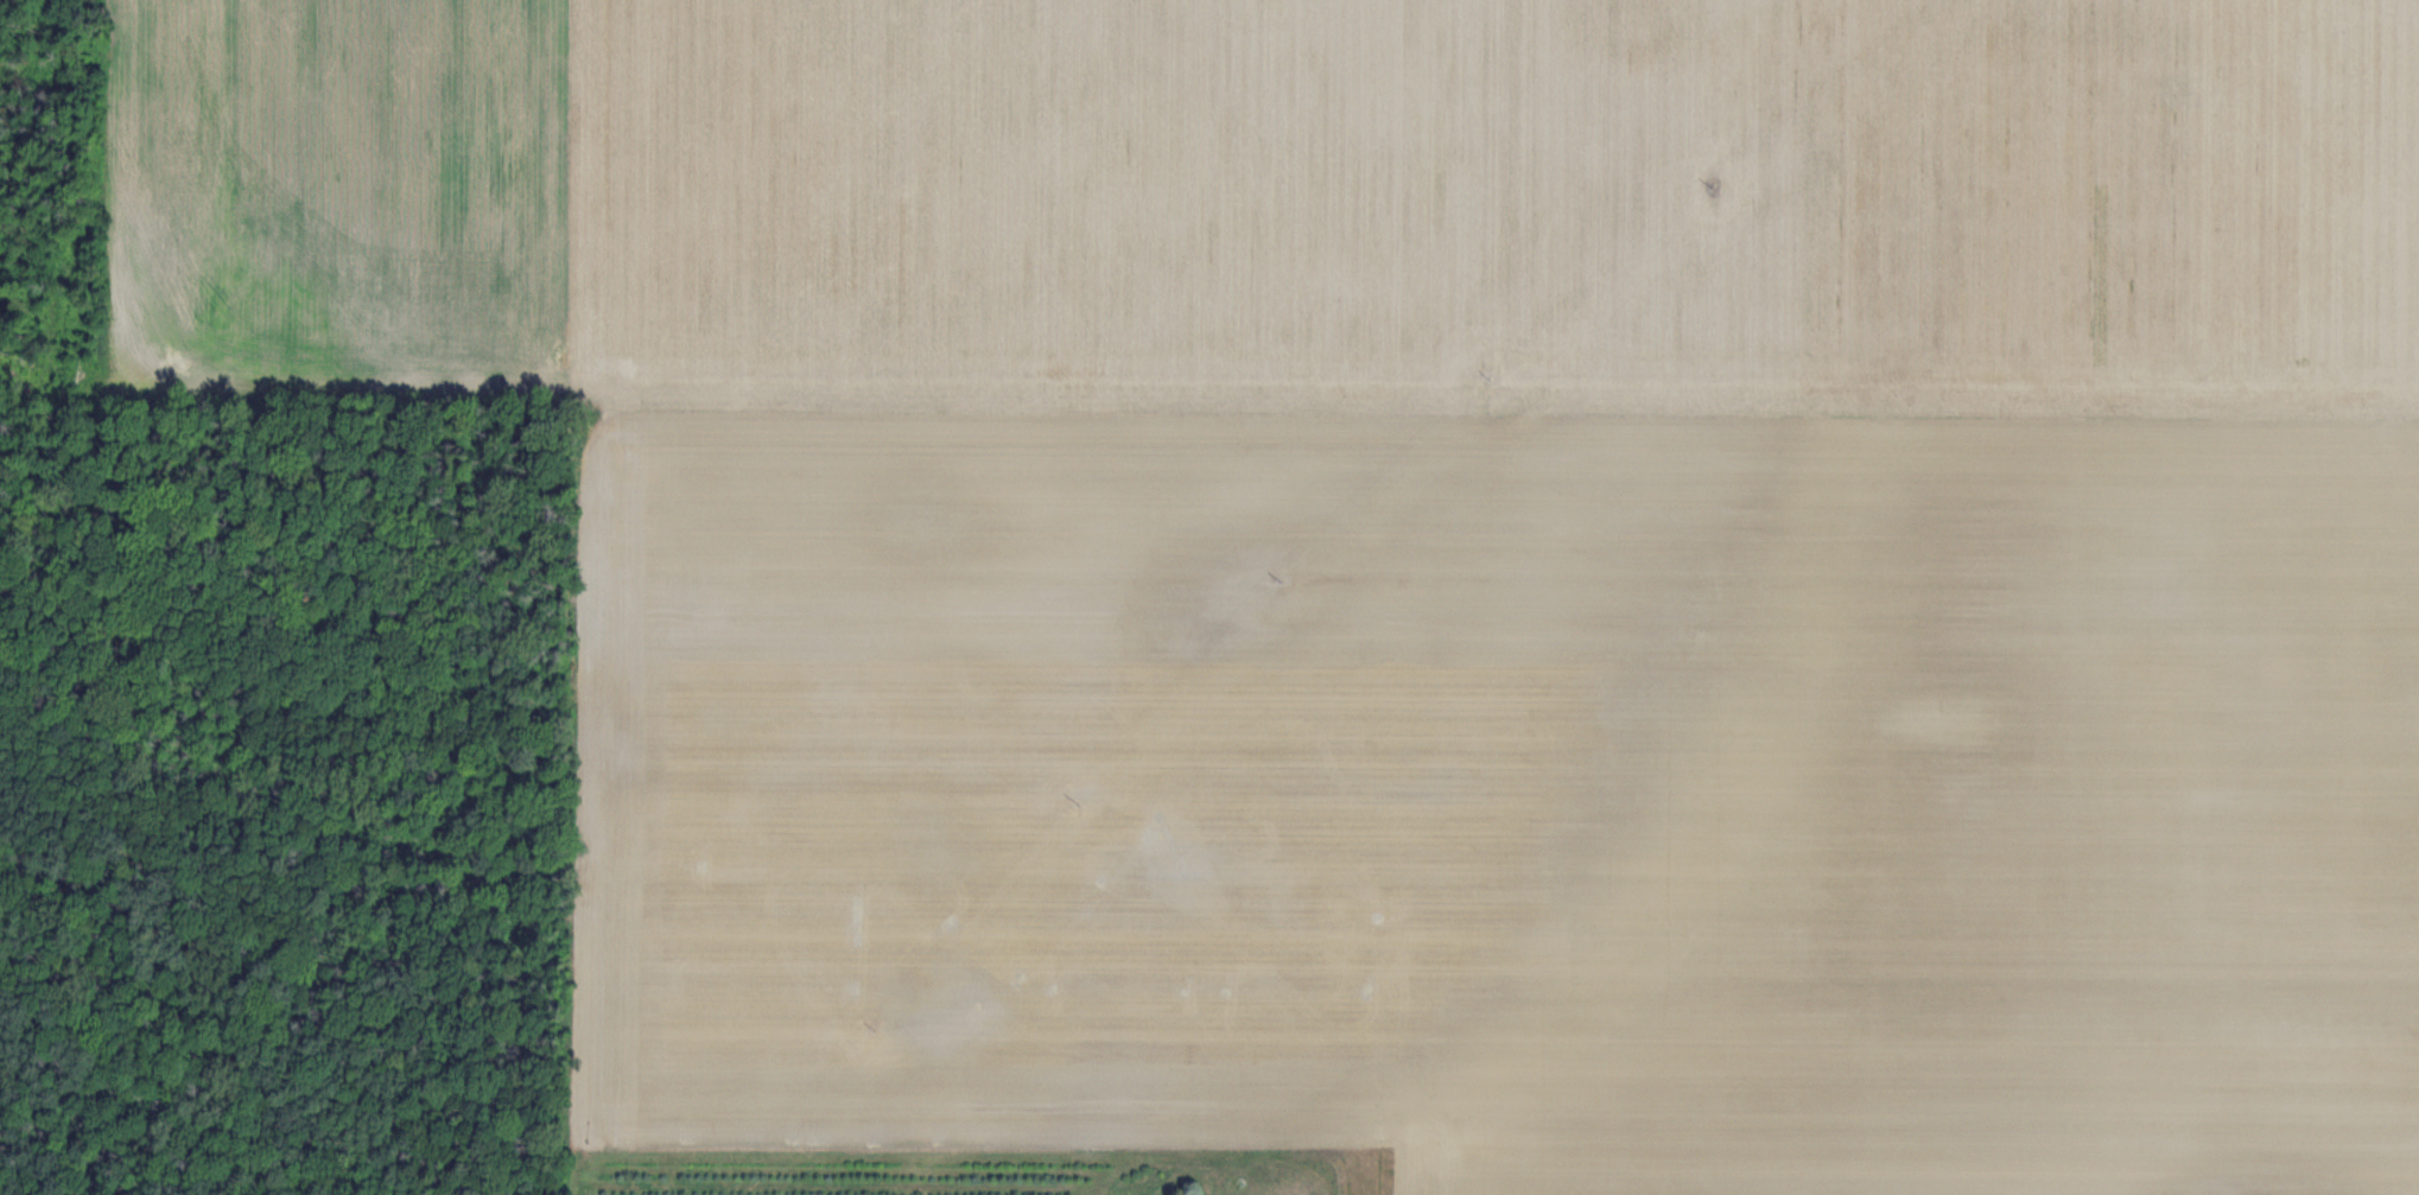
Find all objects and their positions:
road: (2297, 978)

